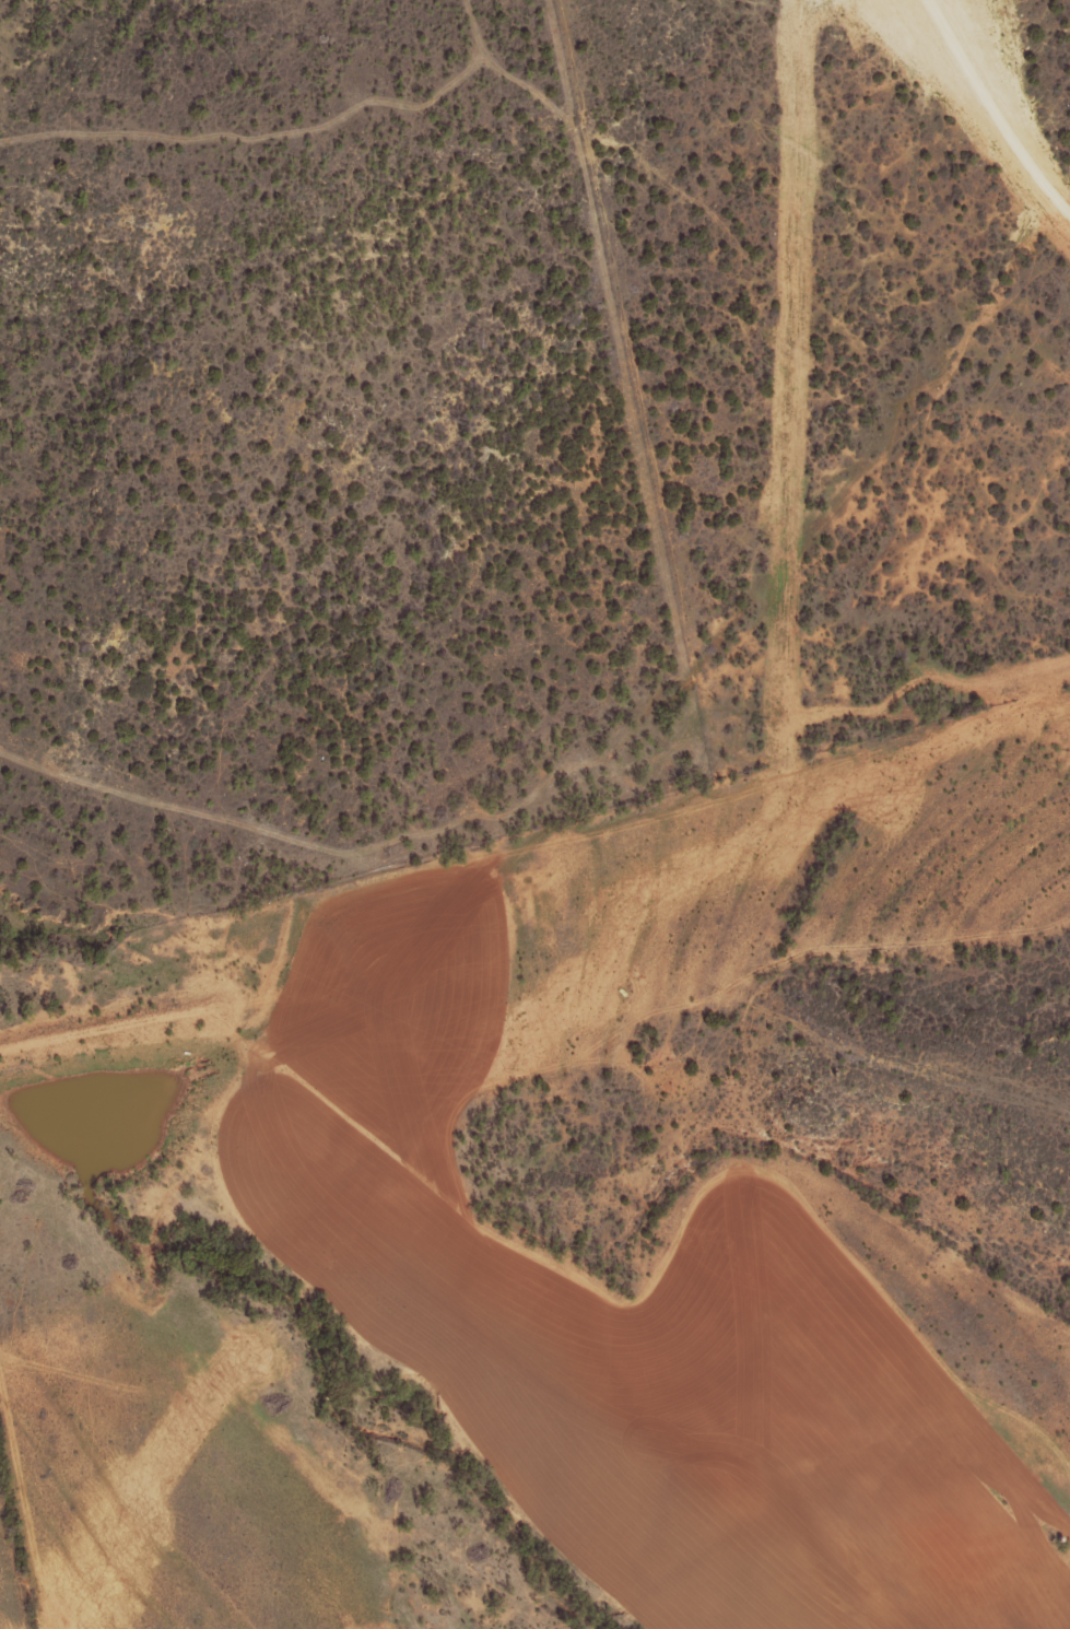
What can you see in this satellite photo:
road: (992, 108)
dam: (98, 1029)
road: (788, 1189)

